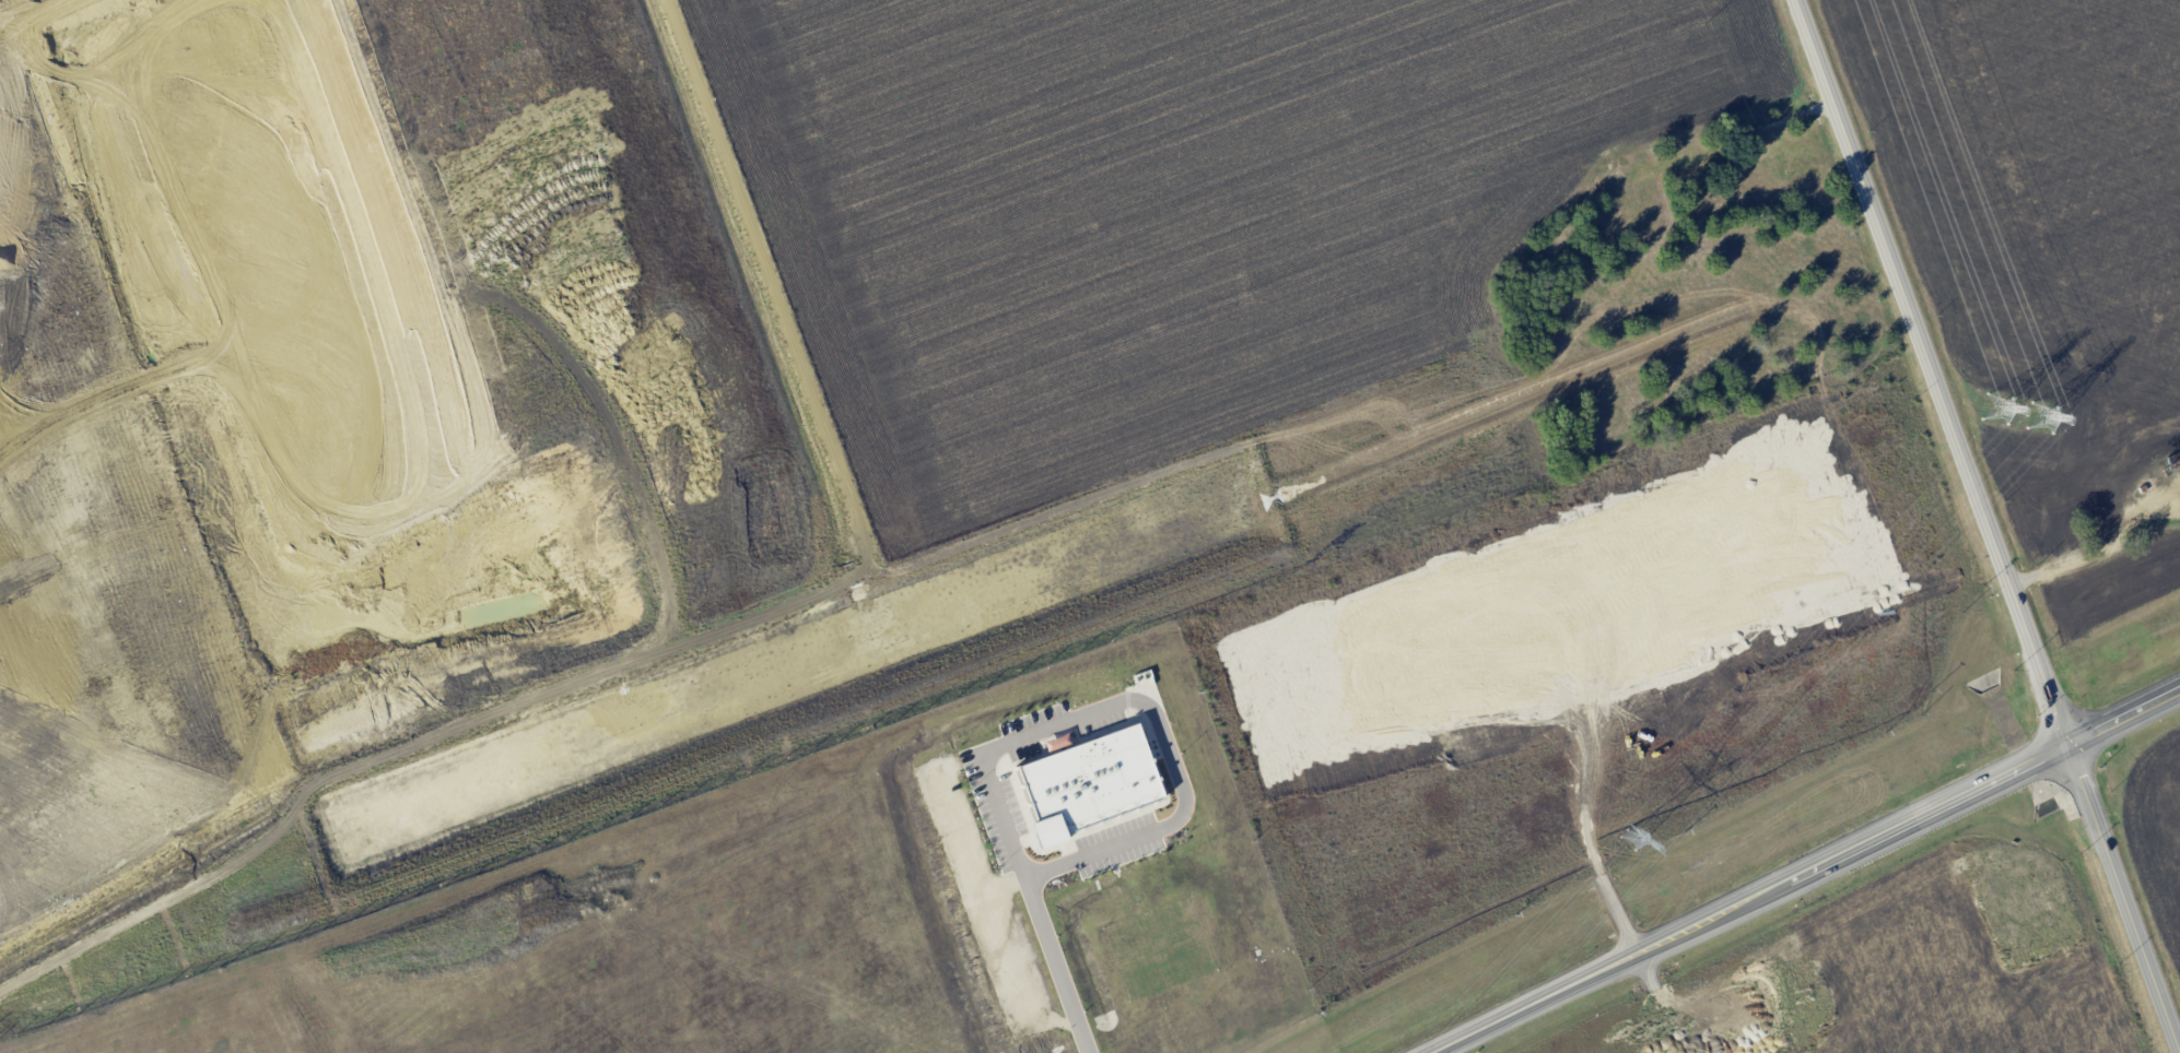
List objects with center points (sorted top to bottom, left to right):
power tower: (2023, 413)
landfill: (380, 466)
road: (1981, 526)
road: (695, 639)
road: (1138, 702)
building: (1082, 782)
road: (1908, 824)
power tower: (1631, 838)
road: (1054, 966)
road: (1535, 1003)

